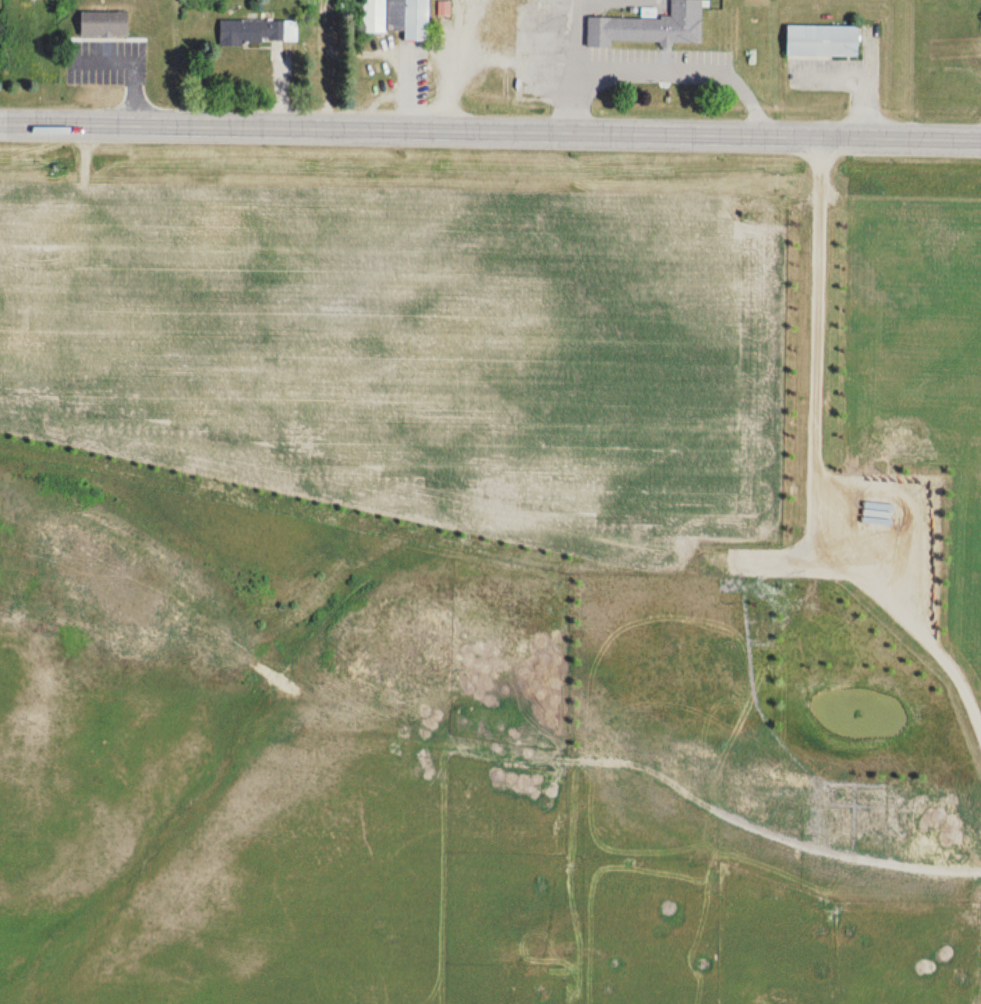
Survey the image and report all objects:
building: (444, 9)
building: (374, 16)
building: (640, 17)
building: (409, 19)
building: (104, 24)
building: (818, 28)
building: (258, 32)
road: (125, 123)
road: (616, 130)

